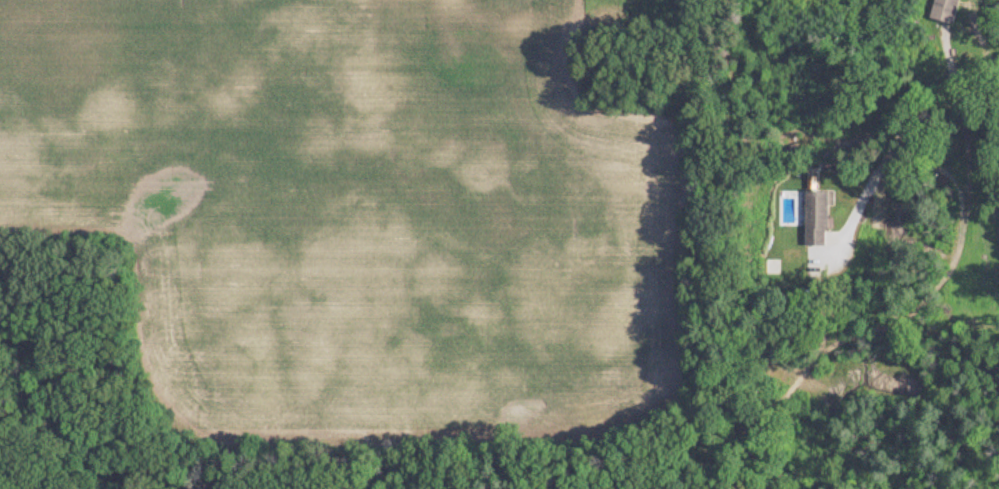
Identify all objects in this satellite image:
road: (894, 137)
building: (812, 218)

